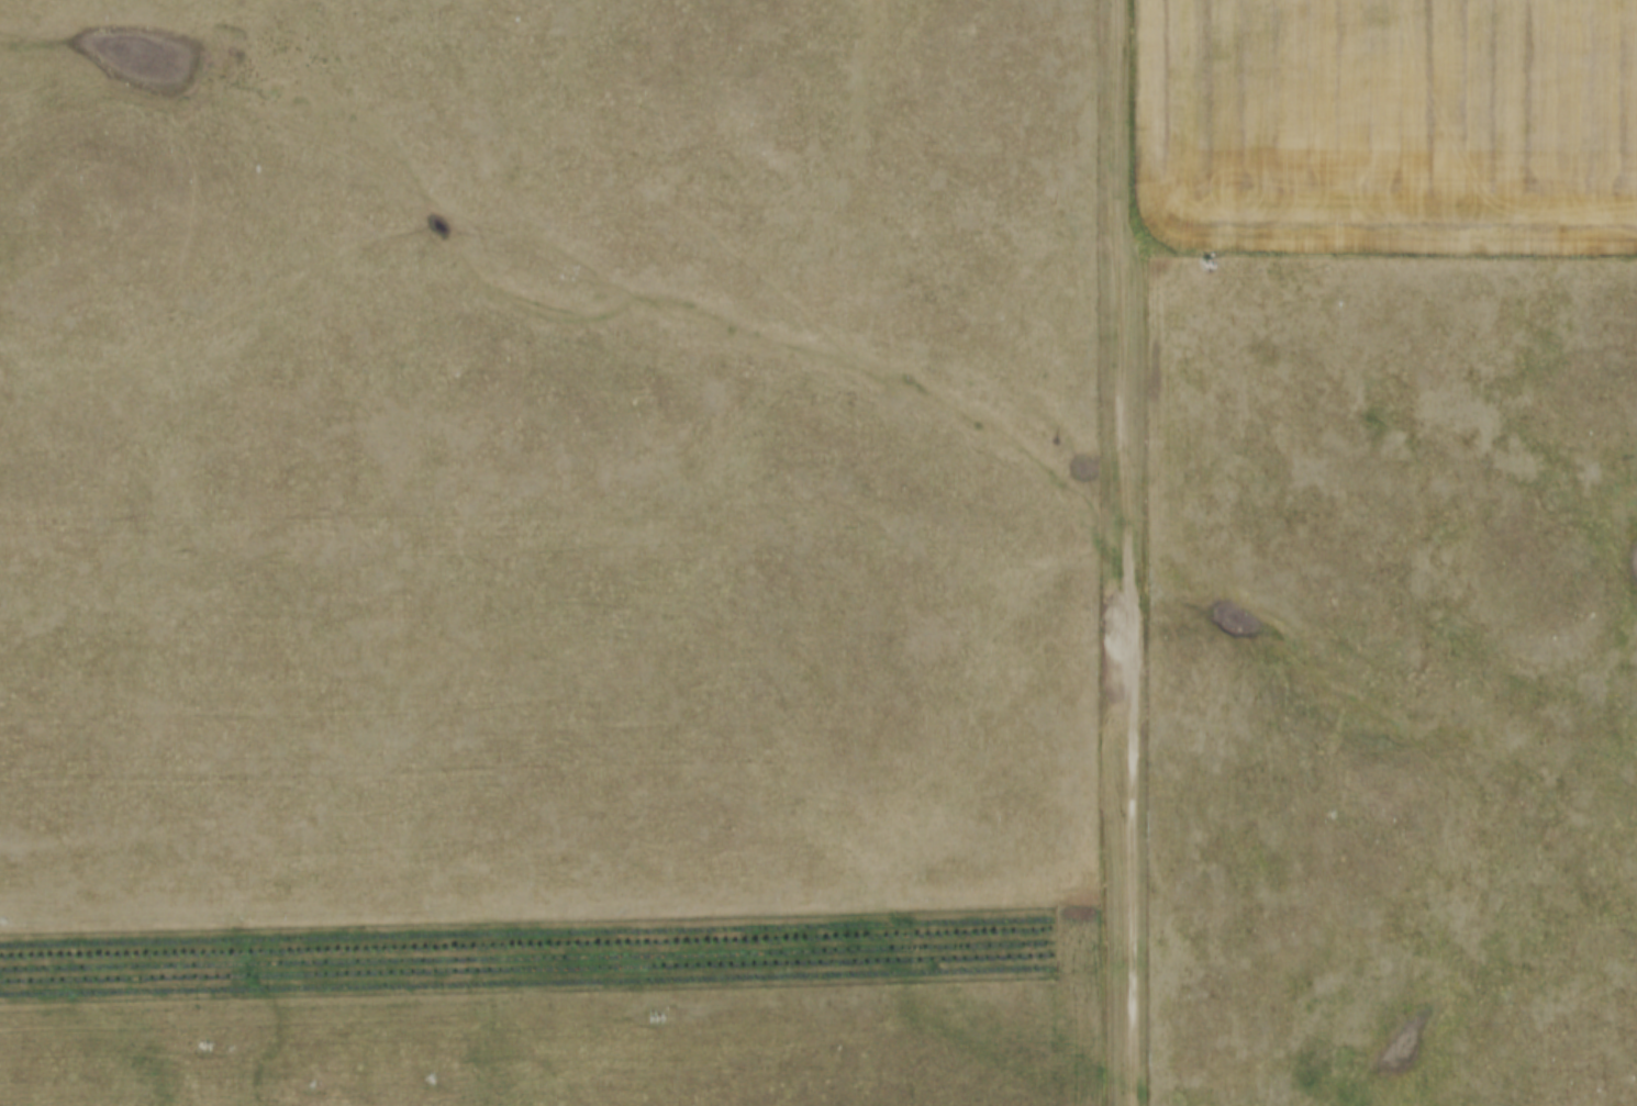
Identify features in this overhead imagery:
road: (1128, 552)

